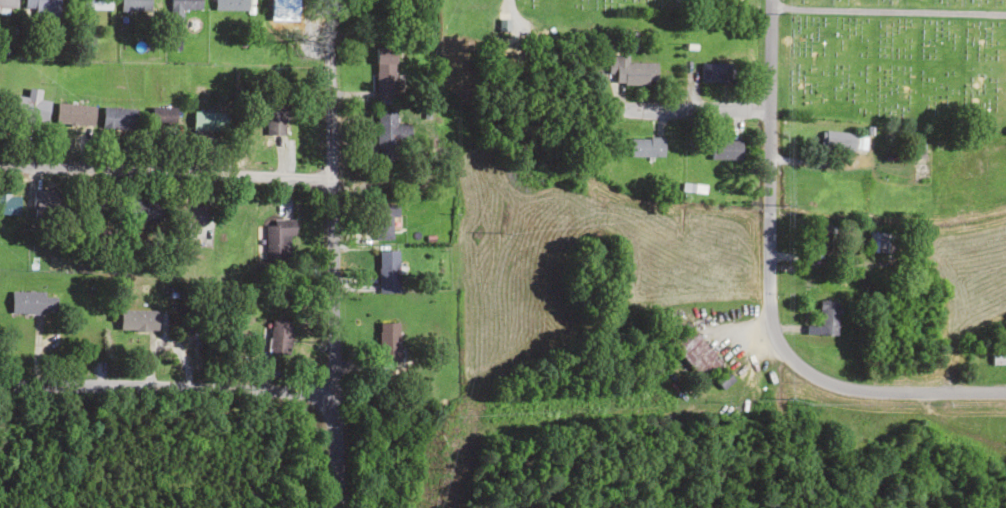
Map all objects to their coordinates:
building: (94, 4)
building: (7, 5)
building: (41, 5)
building: (135, 5)
building: (233, 5)
building: (182, 8)
building: (633, 70)
building: (385, 72)
building: (717, 72)
building: (30, 106)
road: (679, 108)
building: (75, 114)
building: (117, 118)
building: (274, 120)
building: (207, 121)
building: (389, 133)
building: (842, 140)
building: (646, 146)
building: (726, 149)
road: (164, 171)
road: (767, 187)
building: (9, 204)
building: (46, 206)
building: (145, 210)
building: (385, 220)
building: (278, 241)
building: (825, 241)
building: (878, 243)
road: (330, 254)
building: (387, 269)
building: (32, 302)
building: (826, 319)
building: (138, 321)
building: (279, 336)
building: (389, 343)
building: (700, 357)
building: (998, 359)
road: (166, 391)
road: (899, 391)

